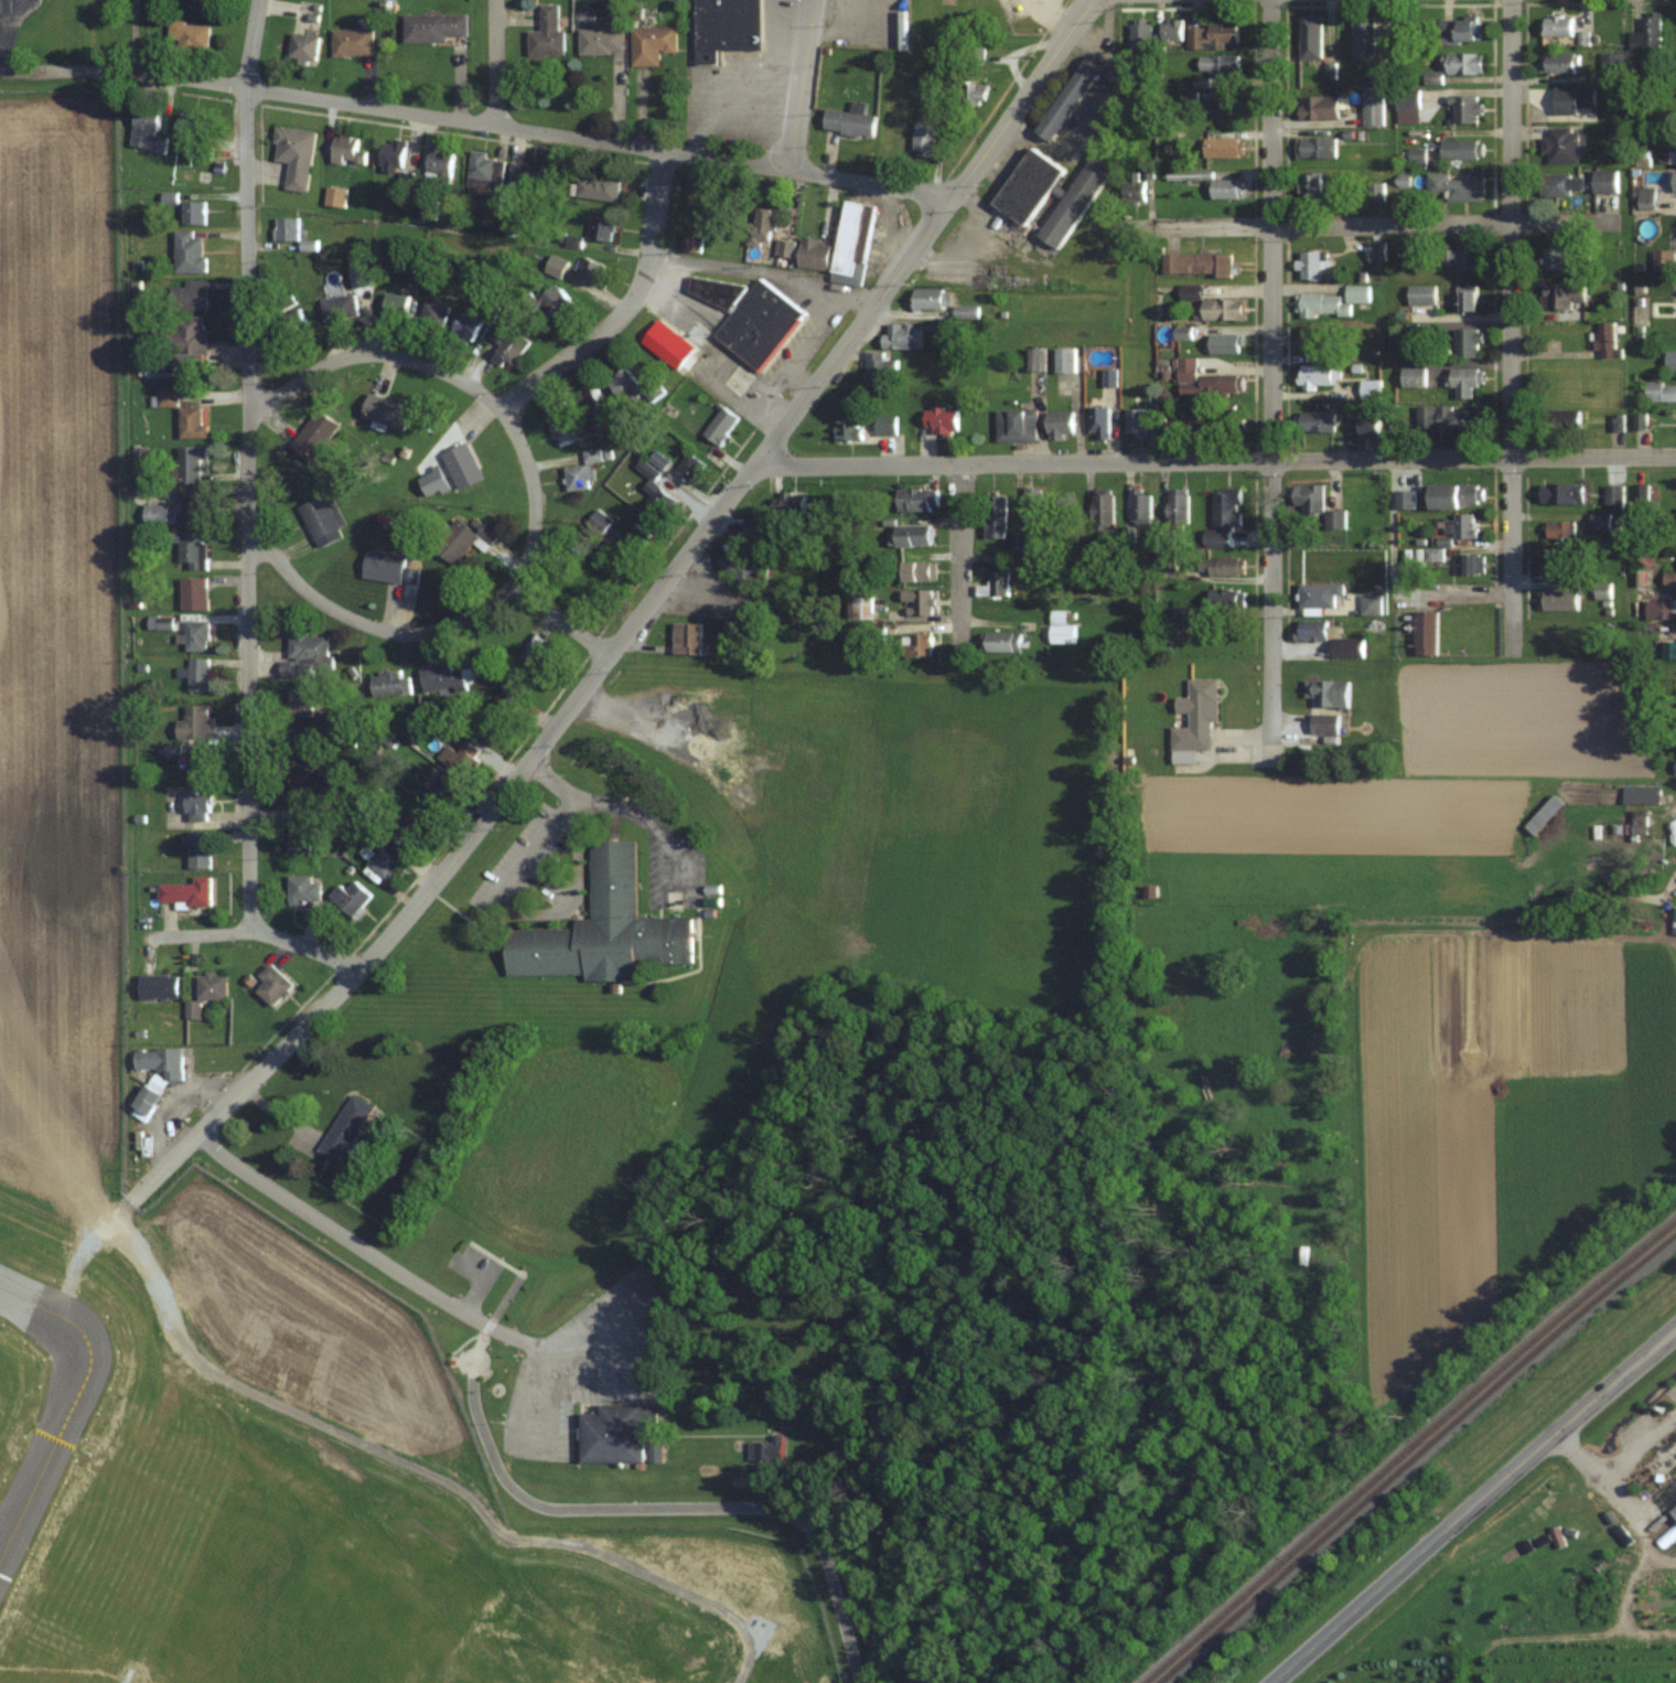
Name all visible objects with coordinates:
building: (200, 3)
building: (1556, 25)
building: (431, 26)
building: (726, 28)
building: (1171, 30)
building: (1455, 31)
building: (546, 33)
building: (1214, 33)
building: (1646, 33)
building: (189, 34)
building: (1362, 34)
building: (1310, 35)
building: (1139, 37)
building: (600, 39)
building: (351, 41)
building: (649, 44)
building: (302, 45)
road: (1, 55)
road: (496, 62)
building: (1461, 62)
building: (1557, 63)
building: (1217, 65)
building: (1611, 67)
building: (1376, 71)
road: (804, 84)
road: (1007, 88)
building: (970, 93)
building: (1406, 97)
building: (1065, 98)
building: (1573, 98)
building: (1372, 106)
building: (1220, 107)
building: (1318, 107)
building: (1464, 107)
road: (397, 110)
building: (847, 122)
building: (1104, 127)
building: (146, 130)
building: (194, 136)
building: (924, 138)
building: (1560, 144)
building: (1223, 146)
building: (1313, 146)
building: (345, 148)
building: (1461, 148)
building: (391, 151)
building: (293, 154)
building: (1416, 154)
building: (438, 163)
building: (483, 172)
building: (523, 175)
building: (1604, 181)
road: (874, 182)
building: (1210, 182)
building: (1674, 182)
building: (1559, 183)
building: (1027, 184)
building: (1134, 185)
building: (1309, 185)
building: (595, 186)
building: (1457, 186)
building: (1375, 190)
building: (1646, 197)
building: (1073, 201)
building: (192, 212)
road: (1363, 223)
building: (601, 227)
building: (761, 227)
building: (284, 228)
road: (1287, 229)
building: (692, 242)
building: (851, 243)
building: (783, 248)
building: (1375, 249)
building: (186, 251)
building: (1581, 253)
building: (813, 254)
building: (1459, 255)
building: (1553, 257)
building: (1664, 258)
building: (1195, 261)
building: (1309, 262)
building: (556, 265)
road: (765, 269)
building: (589, 270)
building: (1189, 291)
building: (1420, 293)
building: (1561, 293)
building: (186, 296)
building: (1465, 297)
building: (930, 298)
building: (555, 300)
building: (1330, 301)
building: (396, 304)
building: (337, 307)
road: (628, 307)
building: (1221, 308)
building: (488, 312)
building: (434, 313)
building: (291, 323)
building: (759, 323)
building: (465, 326)
road: (1513, 328)
building: (695, 332)
building: (1181, 332)
road: (809, 334)
building: (901, 335)
building: (1311, 339)
building: (1605, 340)
building: (1466, 341)
building: (187, 342)
building: (1223, 343)
building: (509, 346)
building: (1063, 360)
building: (1670, 360)
building: (879, 366)
building: (1185, 375)
building: (1313, 375)
building: (1411, 376)
building: (1108, 377)
building: (737, 379)
building: (1464, 379)
road: (1274, 382)
building: (622, 383)
building: (1220, 384)
road: (795, 385)
building: (1368, 388)
building: (1661, 392)
building: (165, 396)
road: (760, 401)
building: (385, 411)
building: (598, 415)
building: (1449, 417)
building: (1558, 418)
building: (939, 420)
building: (1196, 420)
building: (1313, 420)
building: (1098, 421)
building: (190, 422)
building: (1134, 422)
building: (1227, 422)
building: (560, 424)
building: (1059, 424)
building: (884, 425)
building: (1362, 425)
building: (720, 426)
building: (1014, 426)
building: (848, 428)
road: (1216, 460)
building: (187, 463)
building: (462, 464)
building: (688, 467)
road: (248, 469)
building: (582, 471)
building: (649, 484)
road: (734, 490)
building: (1557, 492)
building: (1453, 494)
building: (1613, 494)
building: (1307, 497)
building: (1404, 497)
building: (915, 500)
building: (788, 502)
building: (1032, 506)
building: (1068, 507)
building: (1225, 507)
building: (1177, 508)
building: (1139, 510)
building: (176, 511)
building: (1102, 512)
building: (321, 516)
road: (535, 516)
building: (993, 516)
building: (1333, 518)
building: (1599, 522)
building: (1461, 524)
building: (1557, 528)
building: (754, 535)
building: (911, 535)
building: (634, 537)
building: (1217, 538)
building: (462, 539)
building: (1018, 543)
building: (189, 548)
road: (963, 554)
building: (1001, 560)
building: (1553, 562)
building: (1468, 564)
building: (383, 566)
building: (1216, 566)
building: (742, 567)
building: (914, 571)
building: (410, 575)
building: (1669, 578)
building: (998, 582)
road: (1393, 582)
building: (1601, 590)
building: (193, 592)
building: (1318, 594)
building: (1224, 599)
building: (1556, 599)
building: (917, 600)
building: (1368, 603)
building: (859, 607)
building: (1657, 609)
building: (1186, 615)
road: (566, 618)
building: (1060, 629)
building: (1310, 629)
building: (1423, 631)
building: (873, 633)
building: (195, 635)
building: (685, 636)
building: (1001, 642)
building: (915, 643)
building: (1344, 645)
building: (1668, 647)
building: (303, 655)
building: (533, 660)
building: (198, 674)
building: (443, 677)
building: (389, 683)
building: (1326, 693)
building: (298, 701)
building: (497, 709)
building: (1196, 716)
building: (192, 721)
building: (1323, 723)
building: (298, 742)
building: (458, 758)
building: (197, 764)
building: (1674, 767)
building: (309, 782)
building: (434, 791)
building: (1640, 794)
building: (195, 805)
road: (621, 805)
building: (1637, 821)
building: (413, 824)
building: (297, 834)
building: (194, 849)
building: (384, 855)
building: (301, 889)
building: (183, 892)
building: (350, 898)
building: (601, 929)
building: (1674, 929)
road: (226, 932)
road: (333, 957)
building: (270, 984)
building: (209, 985)
building: (157, 986)
building: (152, 1084)
road: (246, 1084)
building: (344, 1127)
airport: (225, 1207)
road: (367, 1252)
parking lot: (474, 1266)
road: (516, 1273)
airport taxiway: (11, 1284)
road: (487, 1326)
airport taxiway: (69, 1407)
building: (613, 1434)
railway: (1407, 1448)
building: (765, 1450)
railway: (1414, 1454)
road: (265, 1464)
road: (1607, 1479)
road: (1473, 1504)
road: (657, 1507)
building: (1673, 1512)

